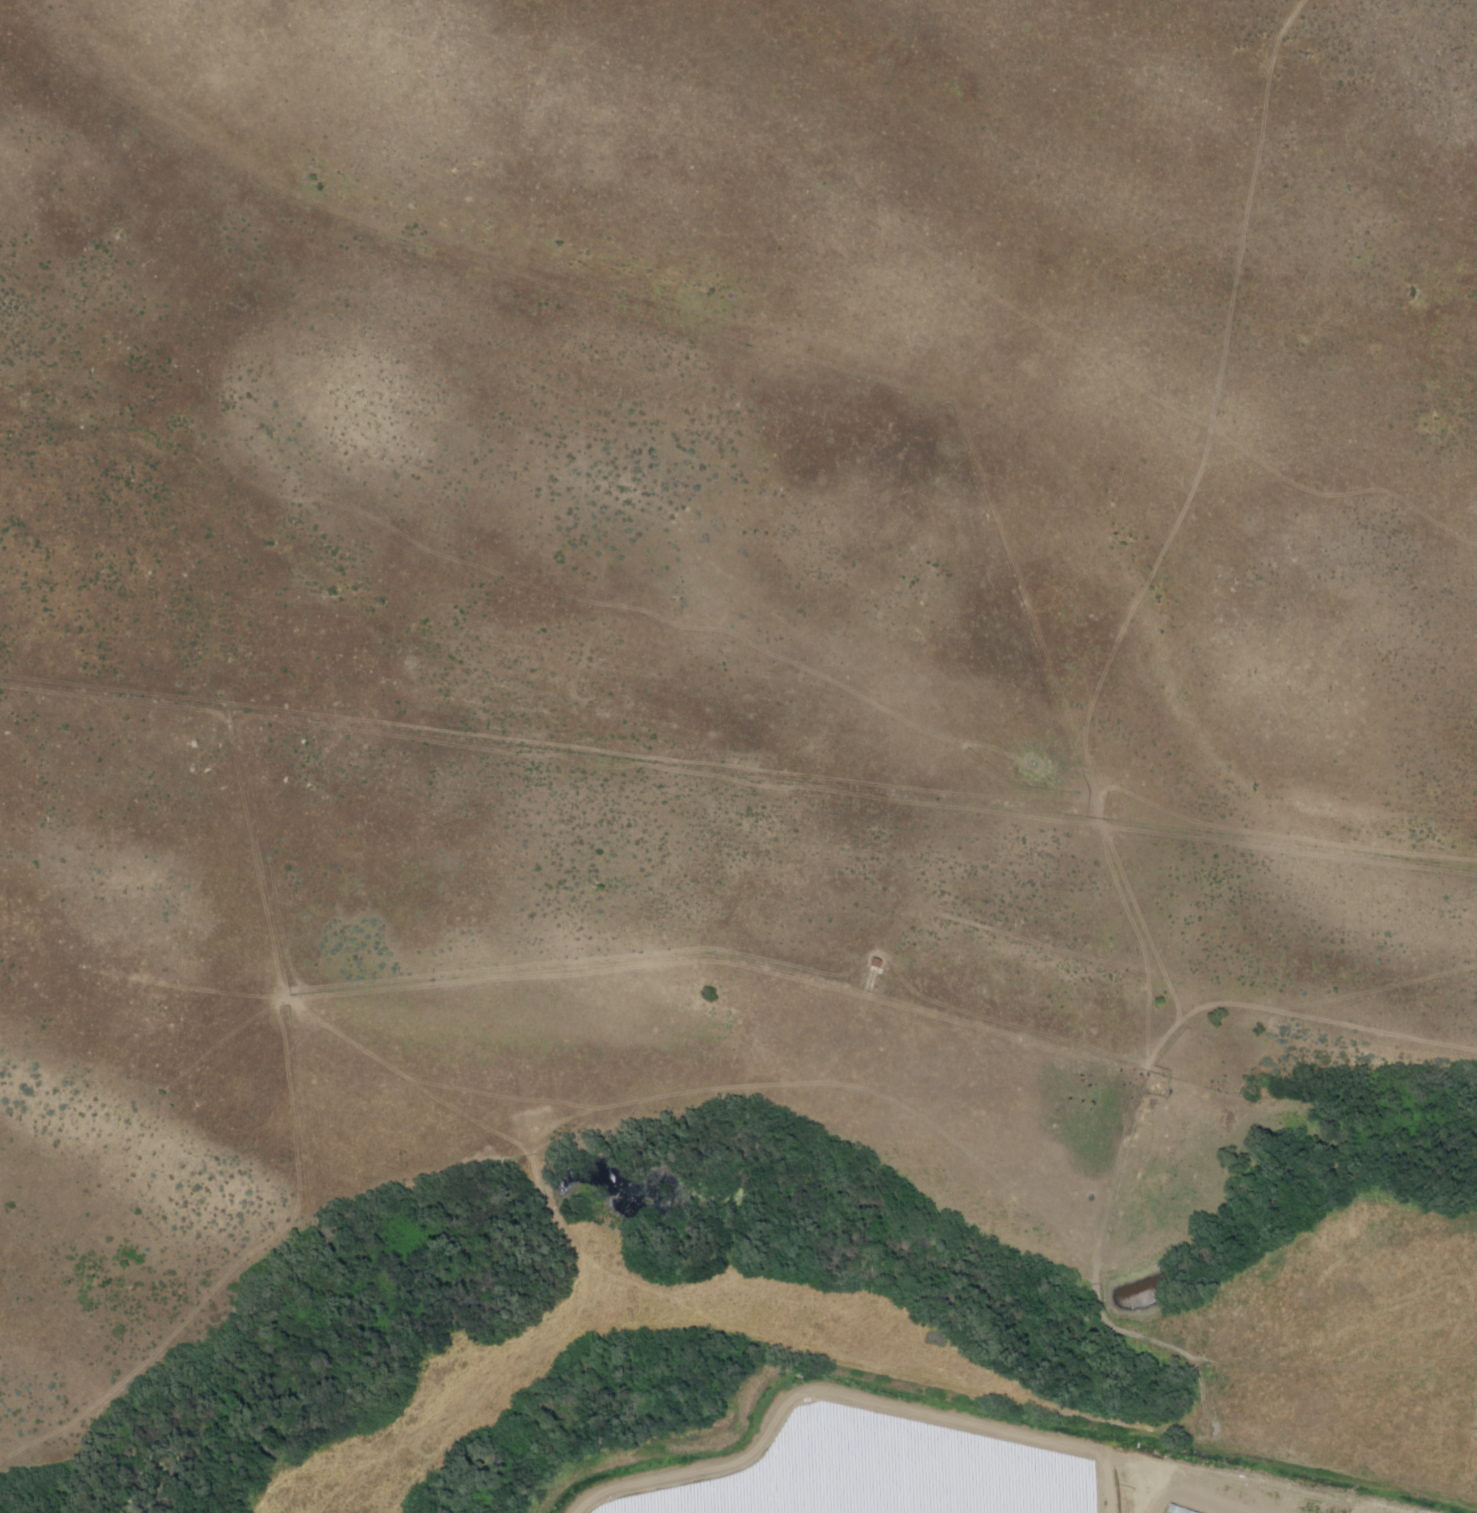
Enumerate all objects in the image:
crop: (885, 1472)
crop: (1202, 1497)

